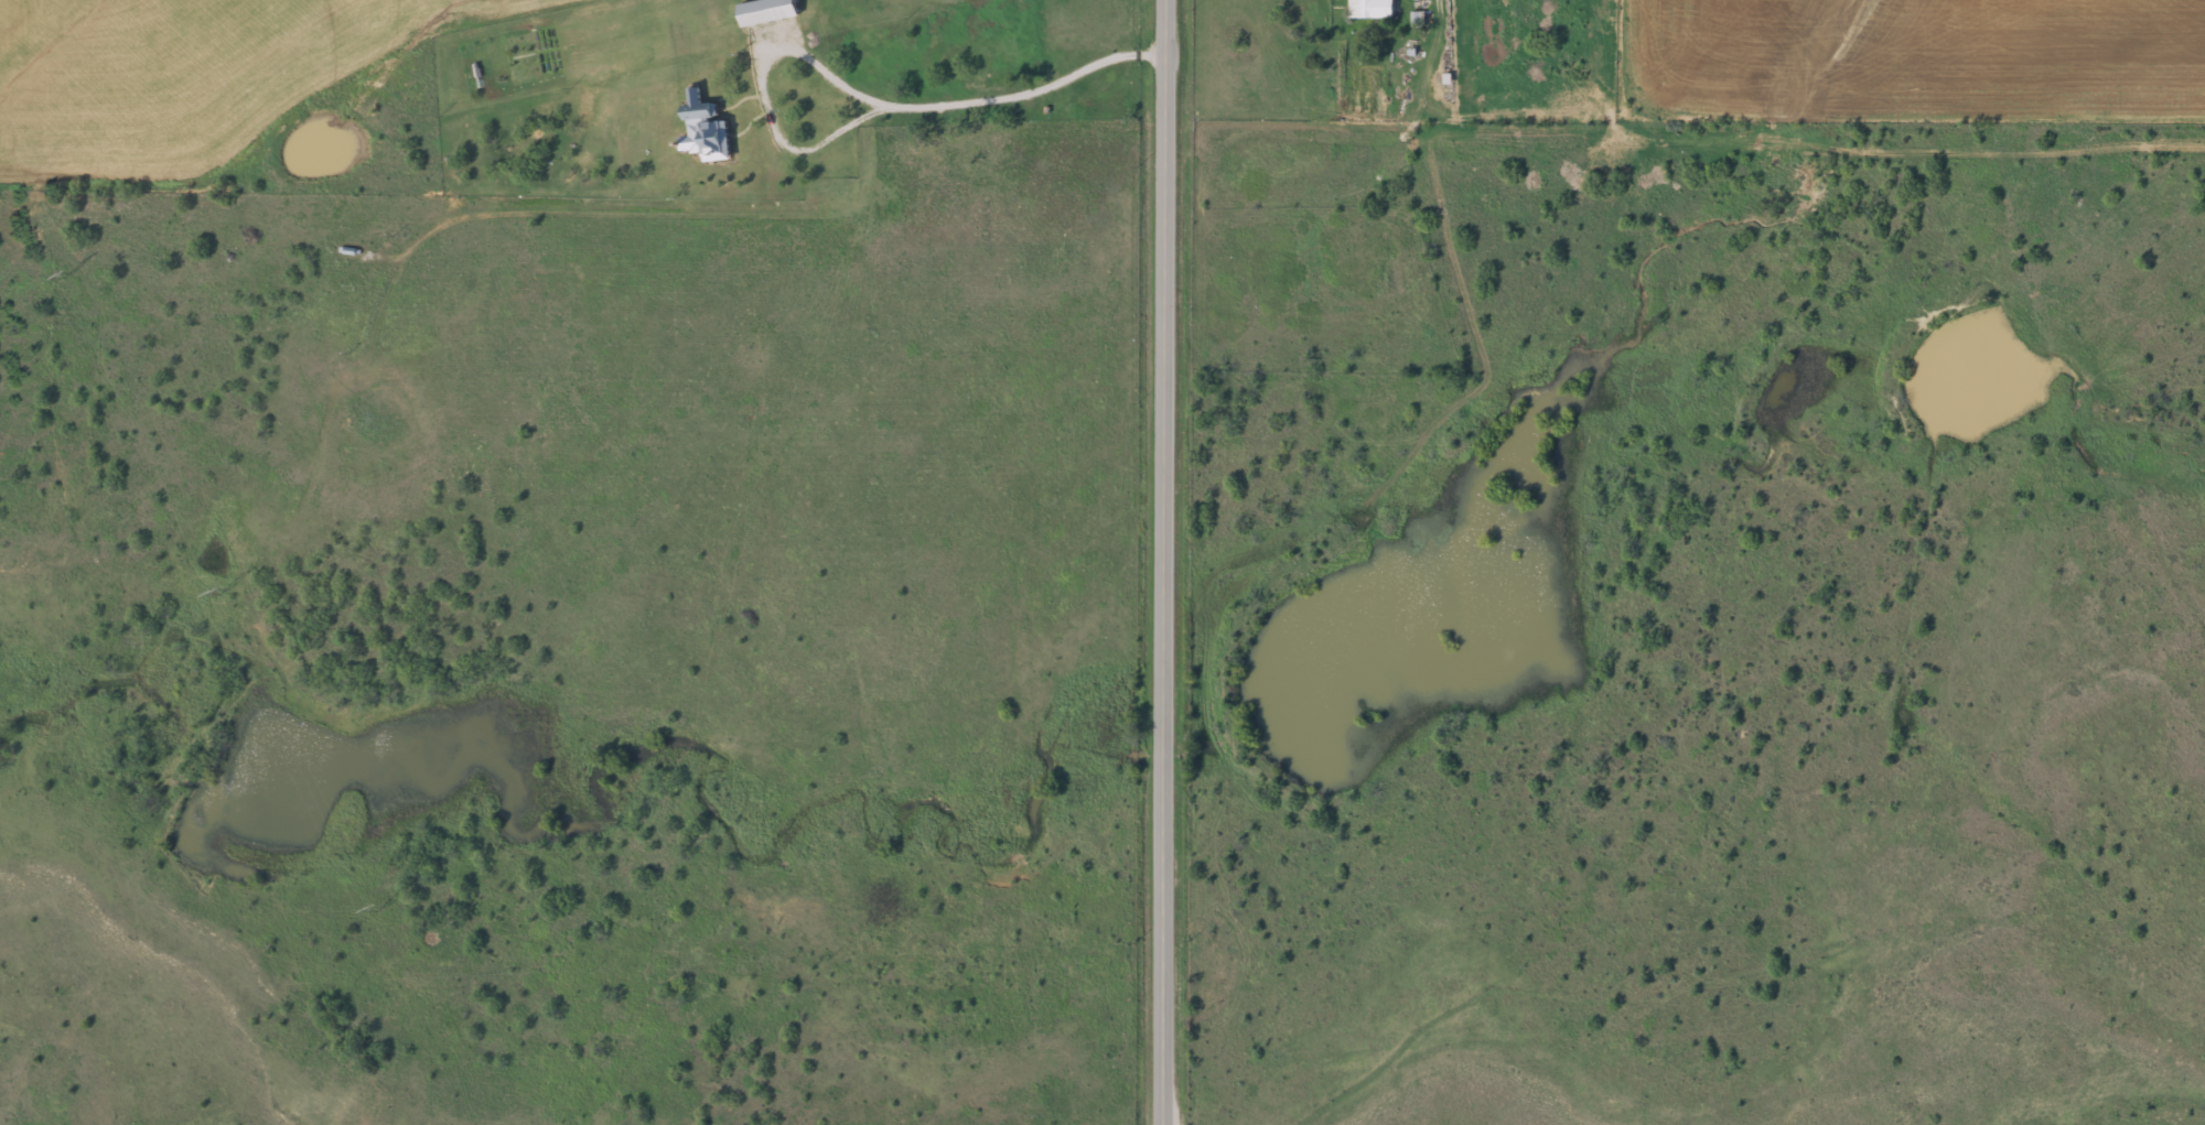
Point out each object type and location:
building: (1372, 9)
building: (767, 11)
building: (1416, 18)
building: (709, 131)
power tower: (68, 271)
road: (1168, 562)
power tower: (226, 587)
power tower: (381, 904)

